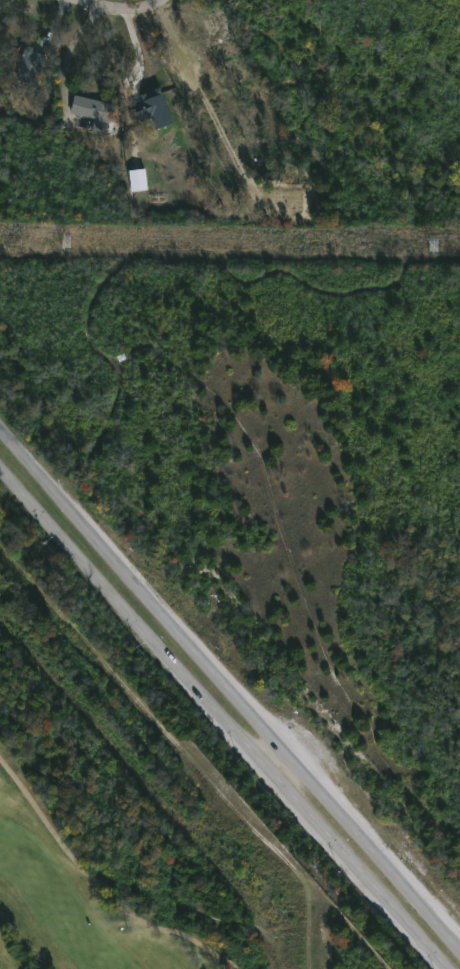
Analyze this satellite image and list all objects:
road: (118, 8)
building: (32, 64)
building: (97, 114)
power tower: (65, 243)
power tower: (433, 247)
road: (231, 679)
road: (222, 716)
park: (93, 858)
road: (100, 883)

